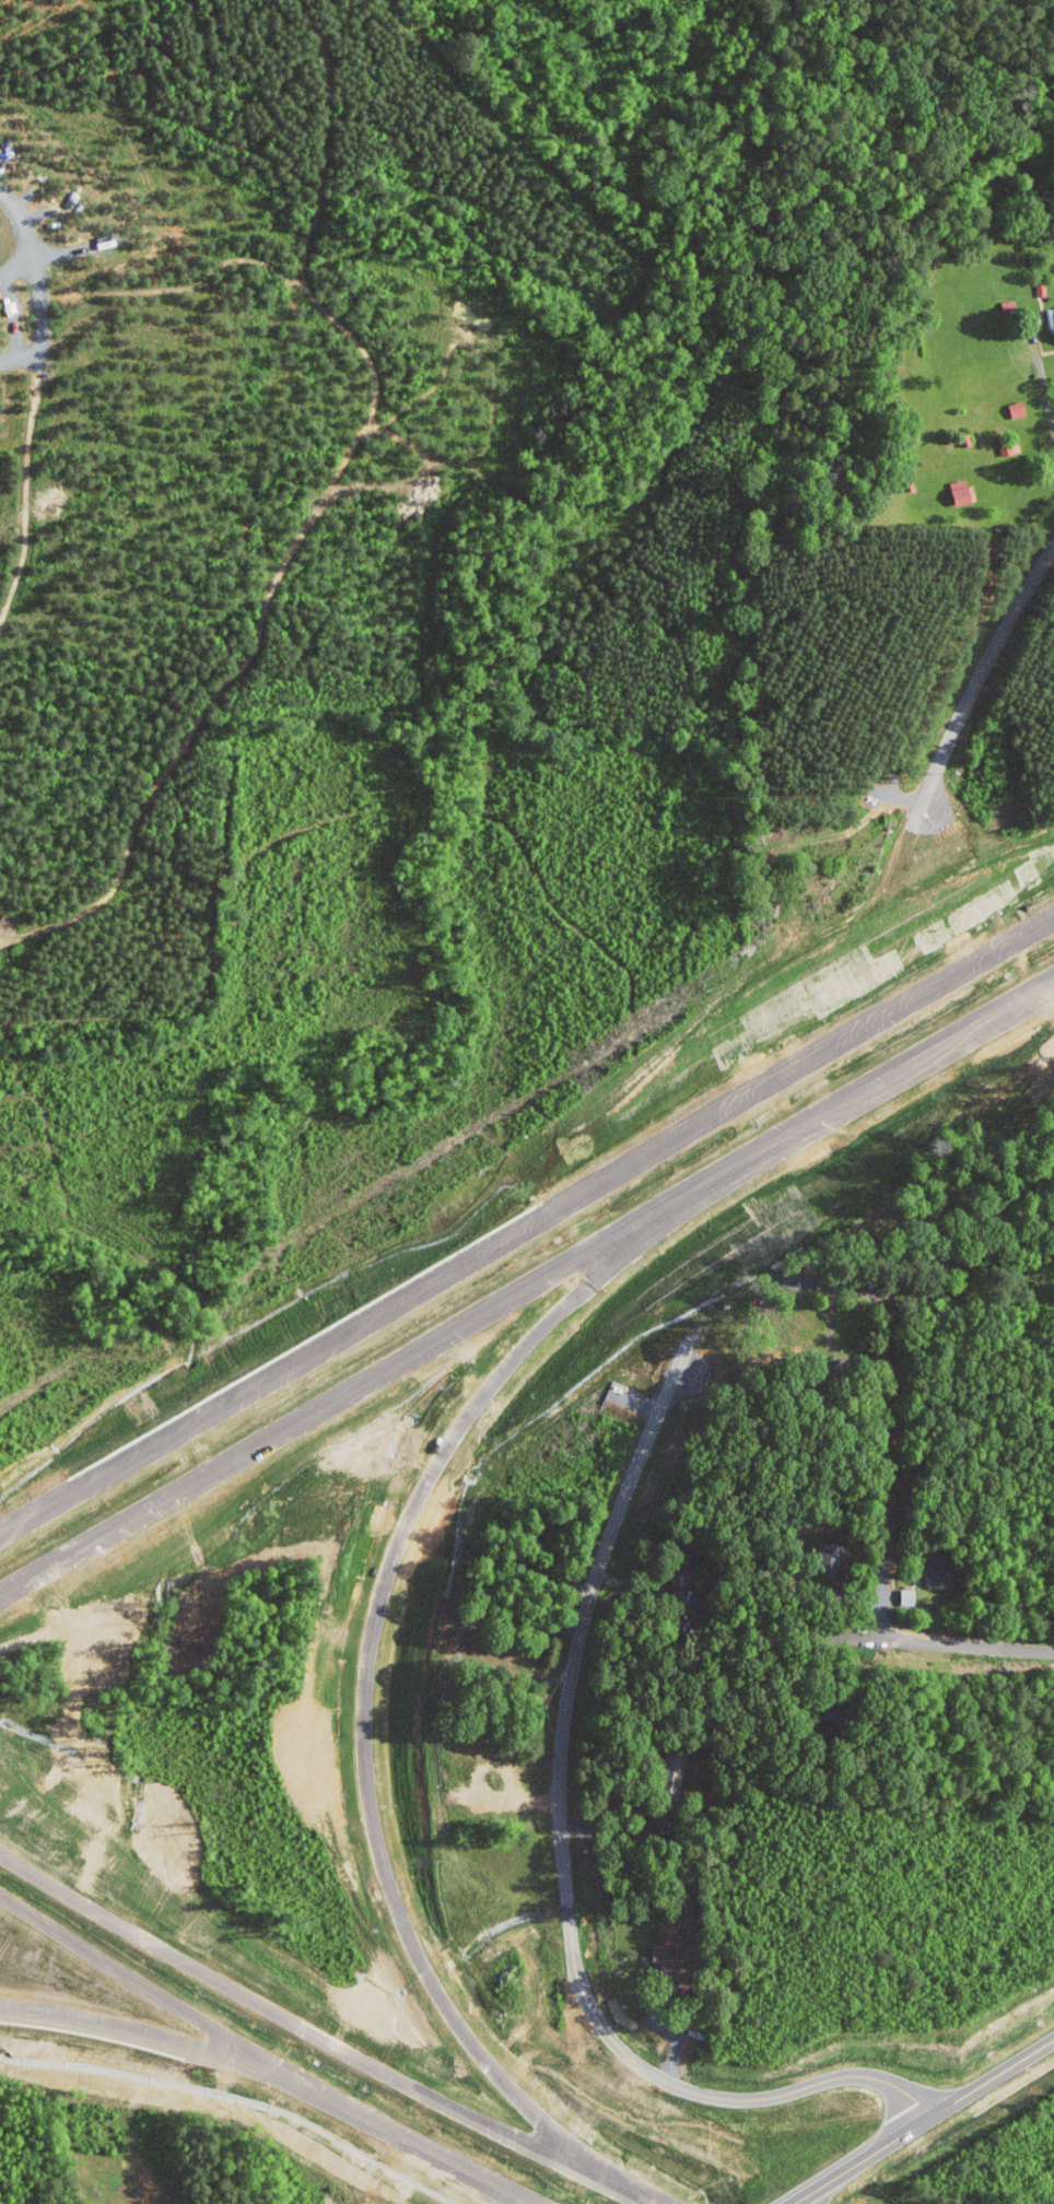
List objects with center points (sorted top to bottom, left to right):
road: (15, 268)
road: (38, 284)
building: (1052, 318)
road: (1042, 379)
building: (1019, 409)
building: (963, 491)
road: (980, 673)
road: (920, 1054)
road: (527, 1228)
road: (393, 1361)
road: (883, 1512)
building: (941, 1573)
building: (910, 1596)
road: (953, 1644)
road: (372, 1645)
building: (670, 1769)
road: (620, 1836)
road: (564, 1868)
building: (665, 1947)
road: (183, 2008)
road: (318, 2037)
road: (189, 2044)
road: (678, 2044)
road: (991, 2080)
road: (458, 2159)
road: (860, 2162)

